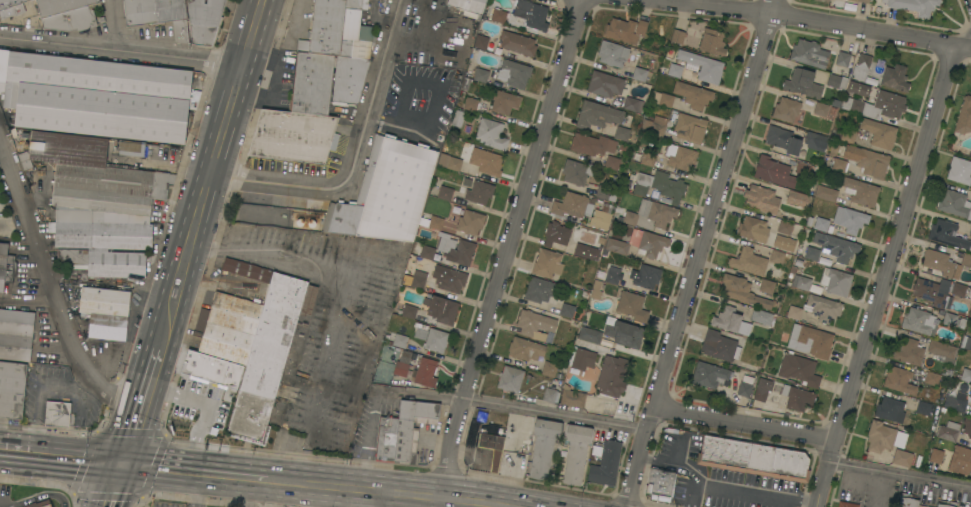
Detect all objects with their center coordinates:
building: (31, 0)
building: (826, 0)
building: (863, 1)
building: (13, 5)
building: (468, 5)
road: (284, 6)
building: (914, 6)
building: (849, 7)
building: (66, 14)
building: (530, 14)
building: (158, 15)
building: (498, 16)
building: (204, 21)
road: (808, 22)
road: (115, 25)
building: (340, 29)
building: (625, 30)
road: (294, 34)
building: (693, 34)
building: (677, 36)
building: (480, 42)
building: (712, 42)
building: (517, 43)
road: (123, 51)
building: (612, 53)
building: (809, 54)
building: (842, 58)
building: (701, 66)
building: (861, 67)
building: (675, 71)
building: (514, 73)
building: (639, 74)
building: (481, 75)
building: (895, 77)
building: (348, 78)
building: (836, 81)
building: (311, 83)
building: (802, 83)
building: (606, 85)
building: (858, 88)
building: (692, 94)
building: (95, 96)
road: (436, 99)
building: (663, 99)
building: (504, 102)
building: (887, 102)
building: (470, 104)
building: (633, 104)
building: (857, 106)
building: (820, 108)
building: (786, 109)
building: (597, 115)
building: (964, 116)
building: (457, 118)
building: (654, 125)
building: (689, 127)
building: (491, 133)
building: (621, 133)
building: (879, 133)
building: (845, 134)
building: (293, 136)
building: (782, 139)
building: (815, 141)
building: (591, 144)
building: (131, 148)
building: (636, 156)
building: (680, 157)
road: (357, 159)
building: (648, 159)
building: (865, 160)
building: (449, 162)
building: (490, 163)
building: (612, 163)
building: (839, 165)
building: (802, 167)
building: (959, 170)
building: (577, 172)
building: (774, 172)
road: (215, 174)
building: (93, 175)
building: (668, 186)
building: (640, 189)
building: (860, 191)
building: (479, 192)
building: (386, 193)
building: (444, 193)
building: (606, 193)
building: (825, 193)
building: (797, 198)
building: (762, 199)
building: (458, 201)
building: (953, 203)
building: (571, 207)
building: (657, 212)
building: (601, 217)
building: (630, 218)
building: (849, 219)
building: (808, 221)
building: (432, 222)
building: (470, 222)
building: (821, 224)
building: (784, 227)
building: (751, 228)
building: (97, 231)
building: (970, 231)
building: (556, 234)
building: (947, 234)
building: (648, 242)
building: (784, 242)
building: (616, 246)
road: (507, 247)
building: (832, 248)
building: (586, 249)
building: (457, 250)
building: (427, 252)
road: (701, 252)
building: (778, 256)
building: (966, 260)
building: (748, 261)
building: (105, 262)
building: (798, 262)
building: (547, 263)
building: (940, 263)
building: (6, 266)
building: (793, 269)
road: (334, 275)
building: (612, 275)
building: (646, 276)
road: (883, 278)
building: (419, 279)
building: (450, 280)
building: (835, 281)
building: (801, 282)
building: (767, 285)
building: (539, 289)
building: (596, 289)
building: (815, 289)
building: (958, 289)
road: (51, 290)
building: (743, 292)
building: (930, 292)
building: (969, 292)
building: (585, 294)
road: (28, 300)
building: (631, 306)
building: (823, 307)
building: (566, 309)
building: (442, 310)
building: (409, 311)
building: (105, 312)
building: (794, 312)
building: (761, 316)
building: (949, 319)
building: (729, 320)
building: (918, 321)
building: (534, 324)
building: (228, 327)
building: (420, 330)
building: (16, 334)
building: (590, 334)
building: (624, 334)
building: (435, 340)
building: (400, 341)
building: (810, 341)
building: (967, 343)
building: (719, 346)
building: (268, 347)
building: (525, 349)
building: (909, 351)
building: (942, 351)
building: (580, 360)
building: (402, 363)
building: (549, 369)
building: (798, 369)
building: (423, 373)
building: (709, 374)
building: (966, 375)
building: (559, 376)
building: (612, 376)
building: (932, 378)
building: (510, 379)
building: (901, 380)
building: (555, 382)
building: (745, 386)
road: (69, 388)
building: (12, 389)
building: (763, 389)
building: (970, 393)
building: (549, 395)
building: (572, 397)
building: (795, 398)
building: (970, 400)
building: (957, 402)
building: (205, 403)
road: (139, 405)
road: (516, 407)
building: (923, 408)
building: (890, 409)
building: (57, 414)
road: (35, 419)
road: (744, 422)
building: (967, 426)
building: (411, 427)
building: (948, 431)
building: (882, 437)
building: (386, 438)
building: (543, 446)
building: (492, 448)
building: (576, 452)
building: (936, 456)
road: (59, 458)
building: (753, 458)
building: (902, 458)
building: (960, 460)
building: (606, 464)
traffic signals: (118, 465)
road: (681, 466)
road: (193, 470)
road: (901, 472)
building: (660, 482)
road: (111, 486)
road: (354, 486)
road: (198, 489)
road: (252, 491)
road: (275, 492)
road: (756, 493)
road: (304, 494)
road: (34, 496)
road: (345, 496)
road: (453, 497)
road: (381, 498)
road: (481, 501)
building: (907, 501)
road: (520, 502)
road: (463, 503)
building: (39, 504)
road: (560, 504)
building: (847, 504)
building: (948, 504)
road: (501, 505)
road: (818, 506)

